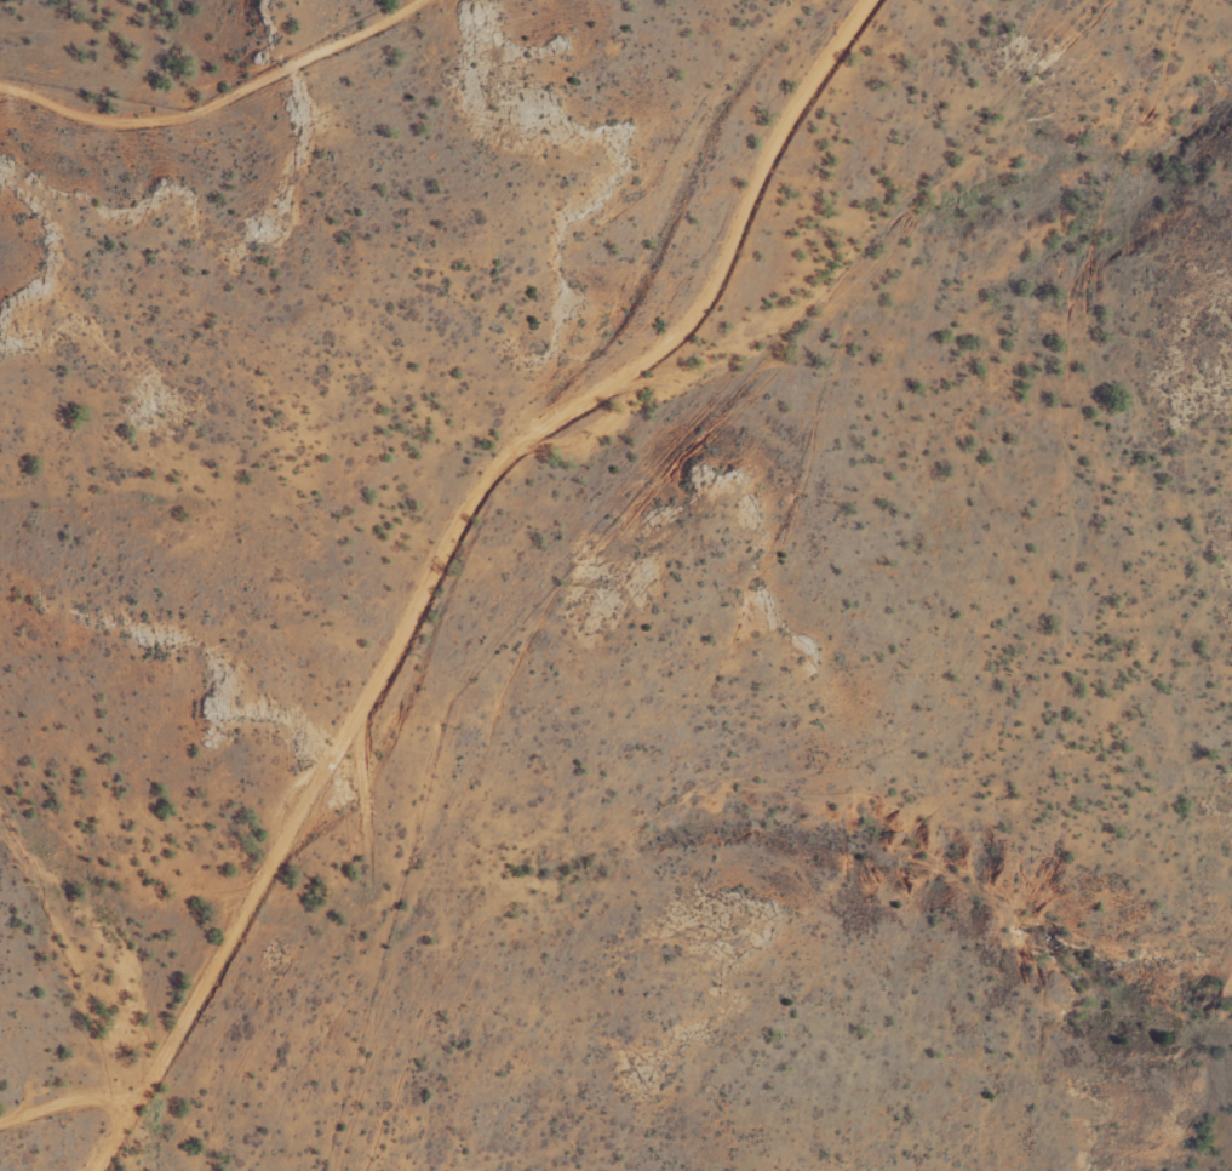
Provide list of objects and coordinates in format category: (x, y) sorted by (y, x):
road: (225, 108)
road: (443, 549)
road: (57, 1118)

